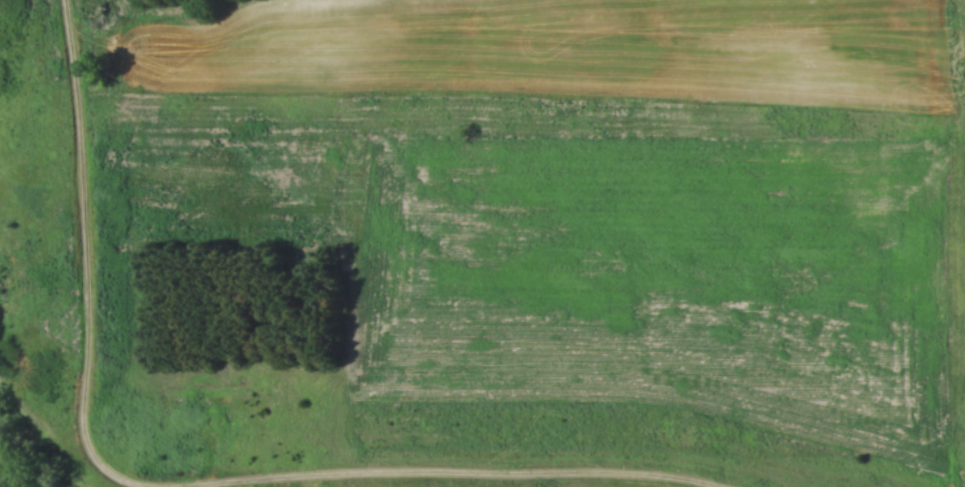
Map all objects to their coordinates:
crop: (557, 52)
park: (482, 243)
road: (88, 251)
crop: (664, 281)
road: (452, 475)

